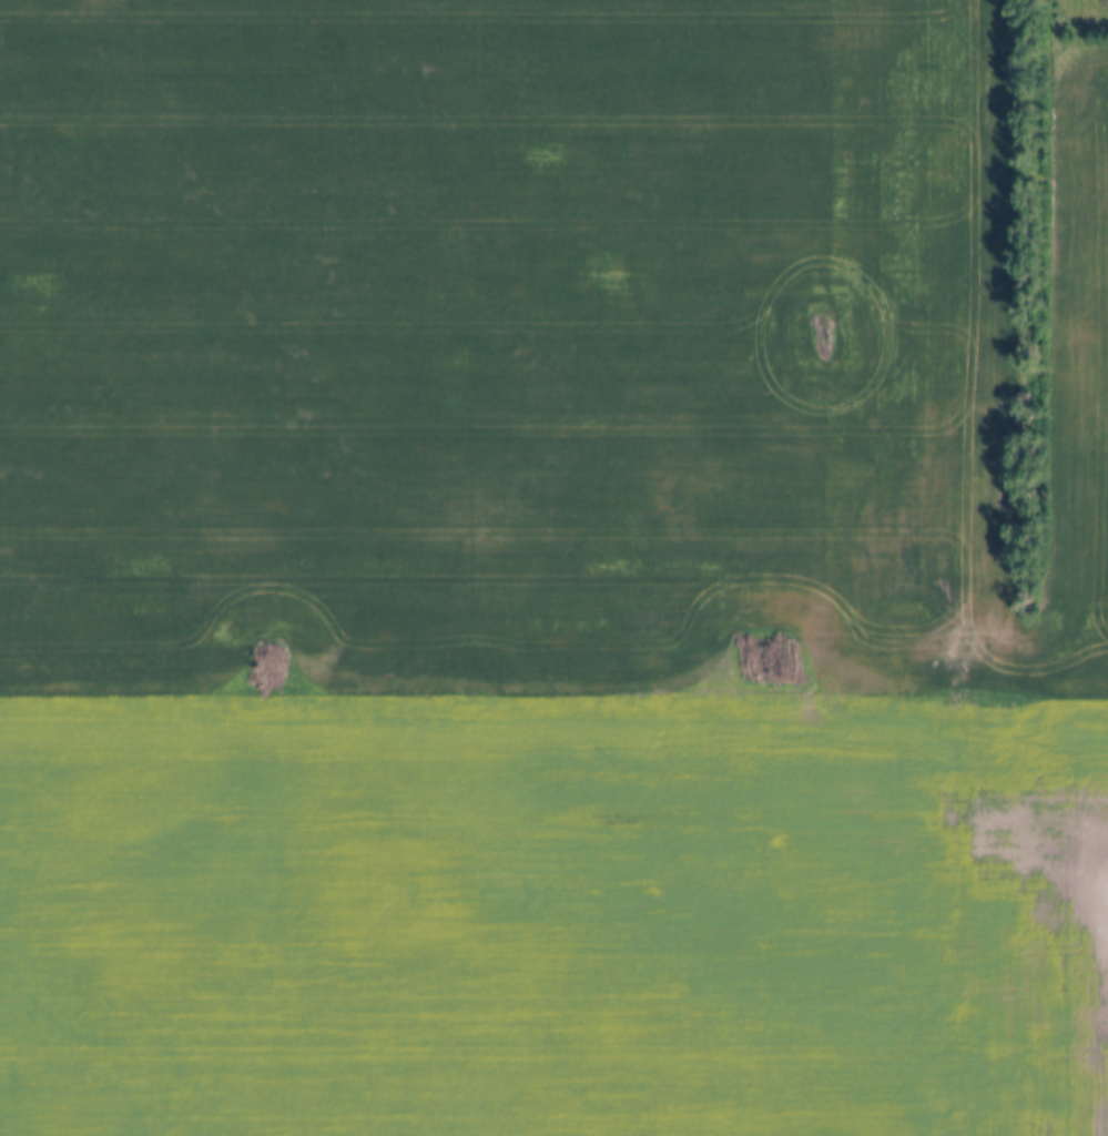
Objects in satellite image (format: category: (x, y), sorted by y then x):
building: (1105, 1)

